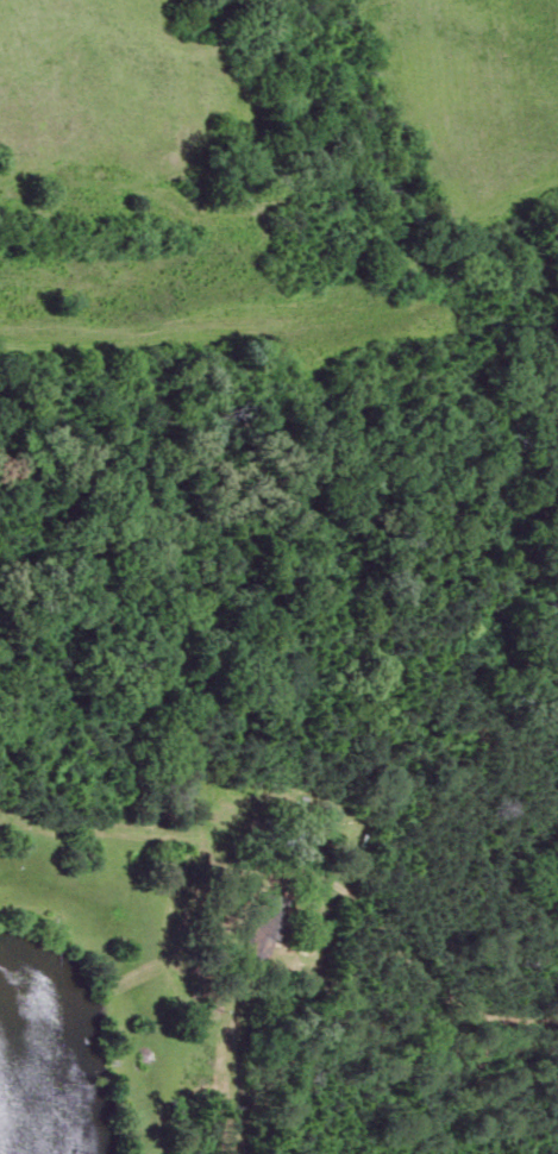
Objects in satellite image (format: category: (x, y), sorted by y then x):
road: (401, 957)

